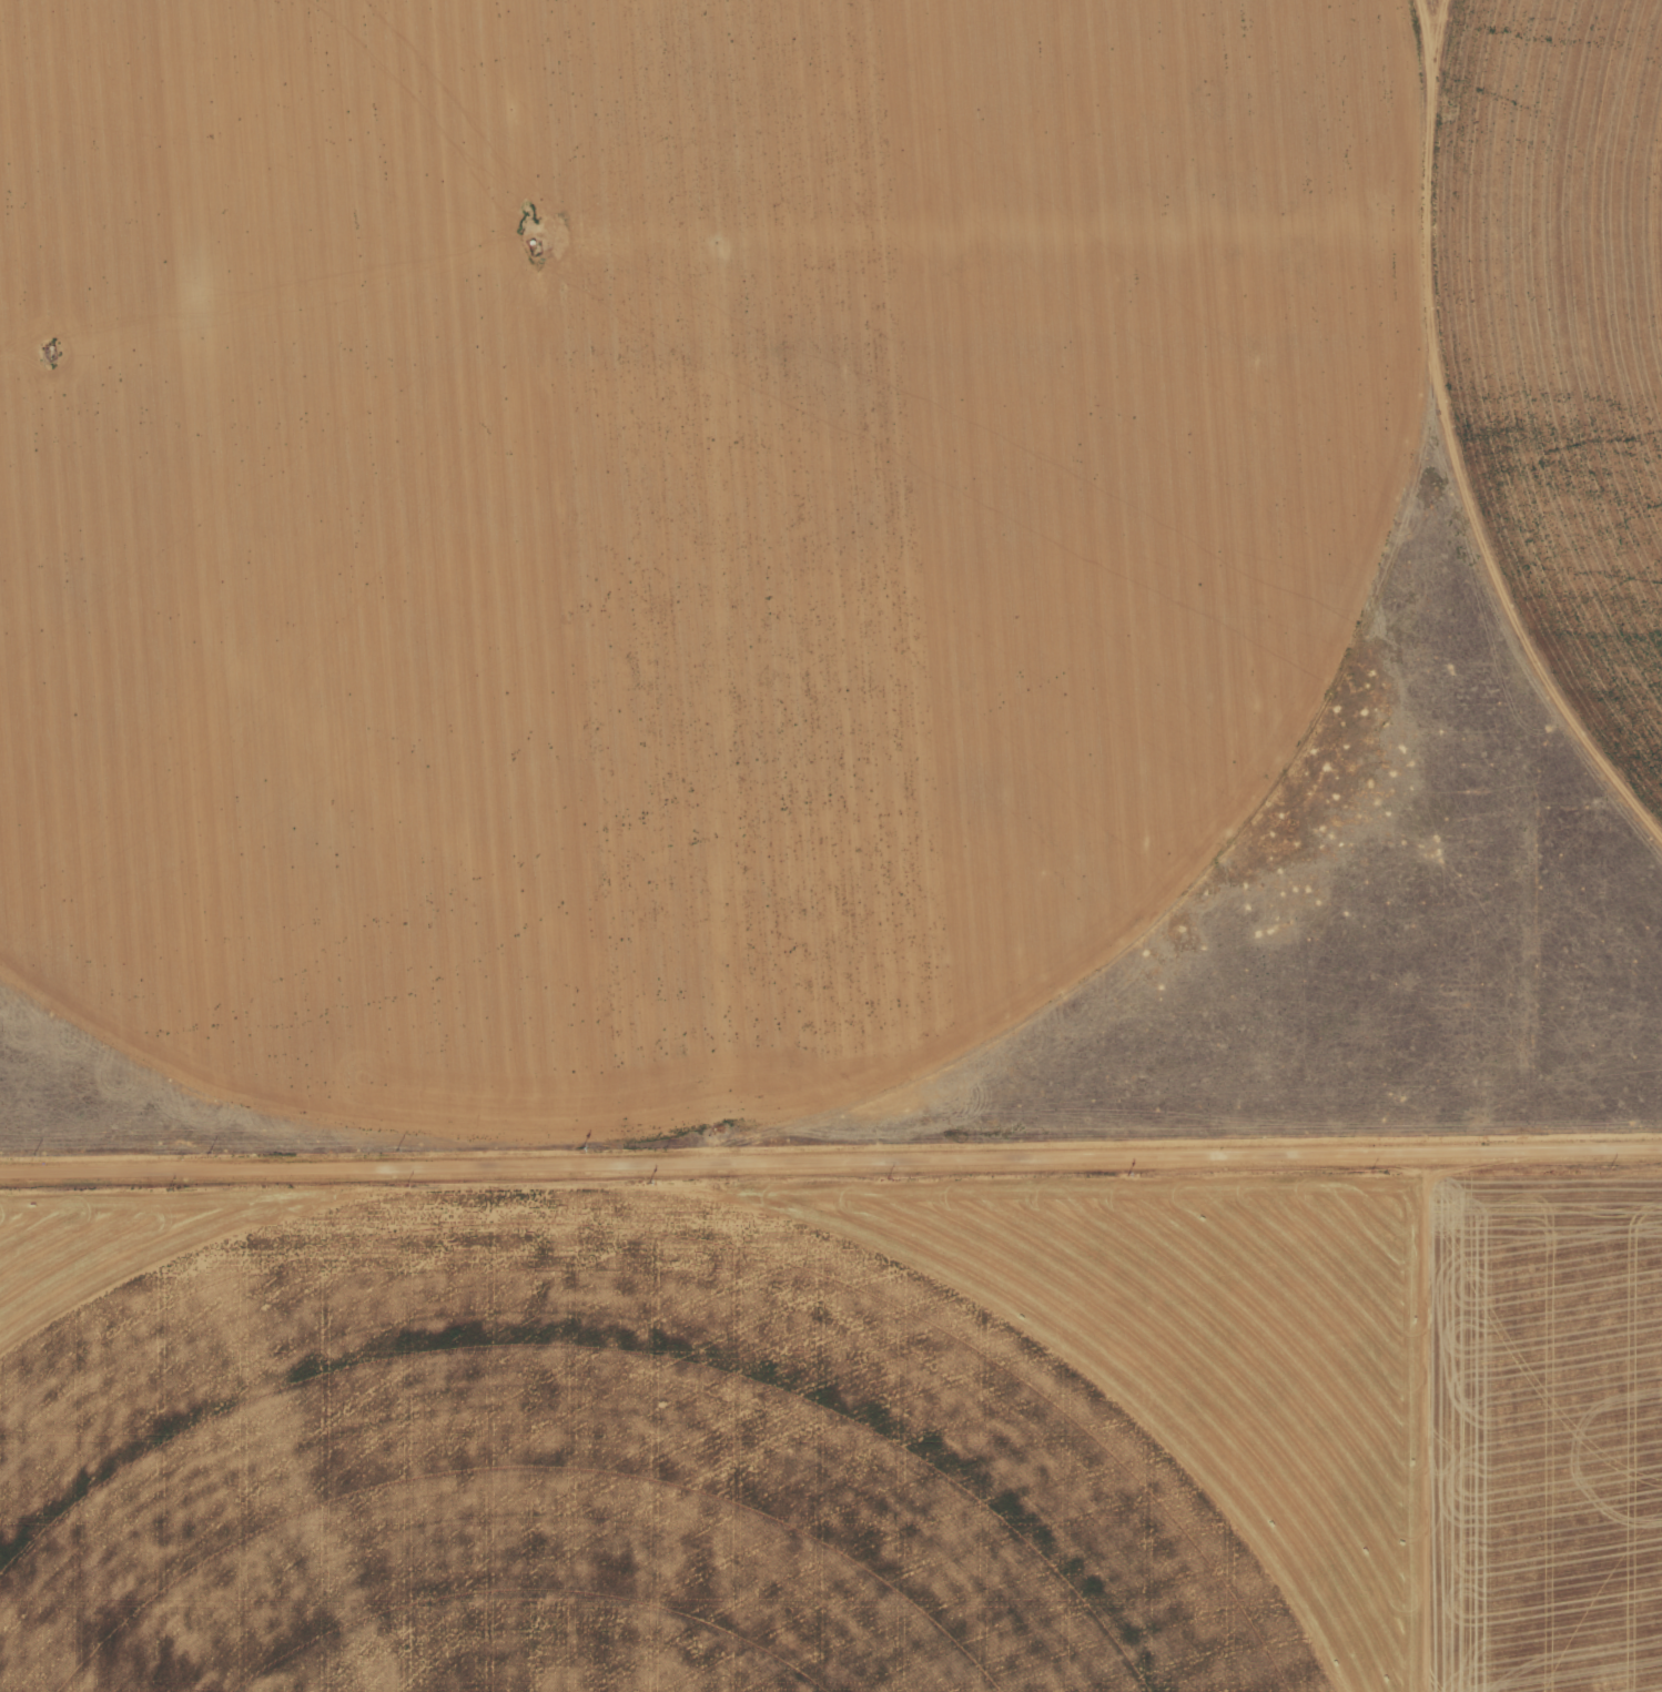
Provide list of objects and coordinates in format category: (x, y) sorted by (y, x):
road: (830, 1159)

